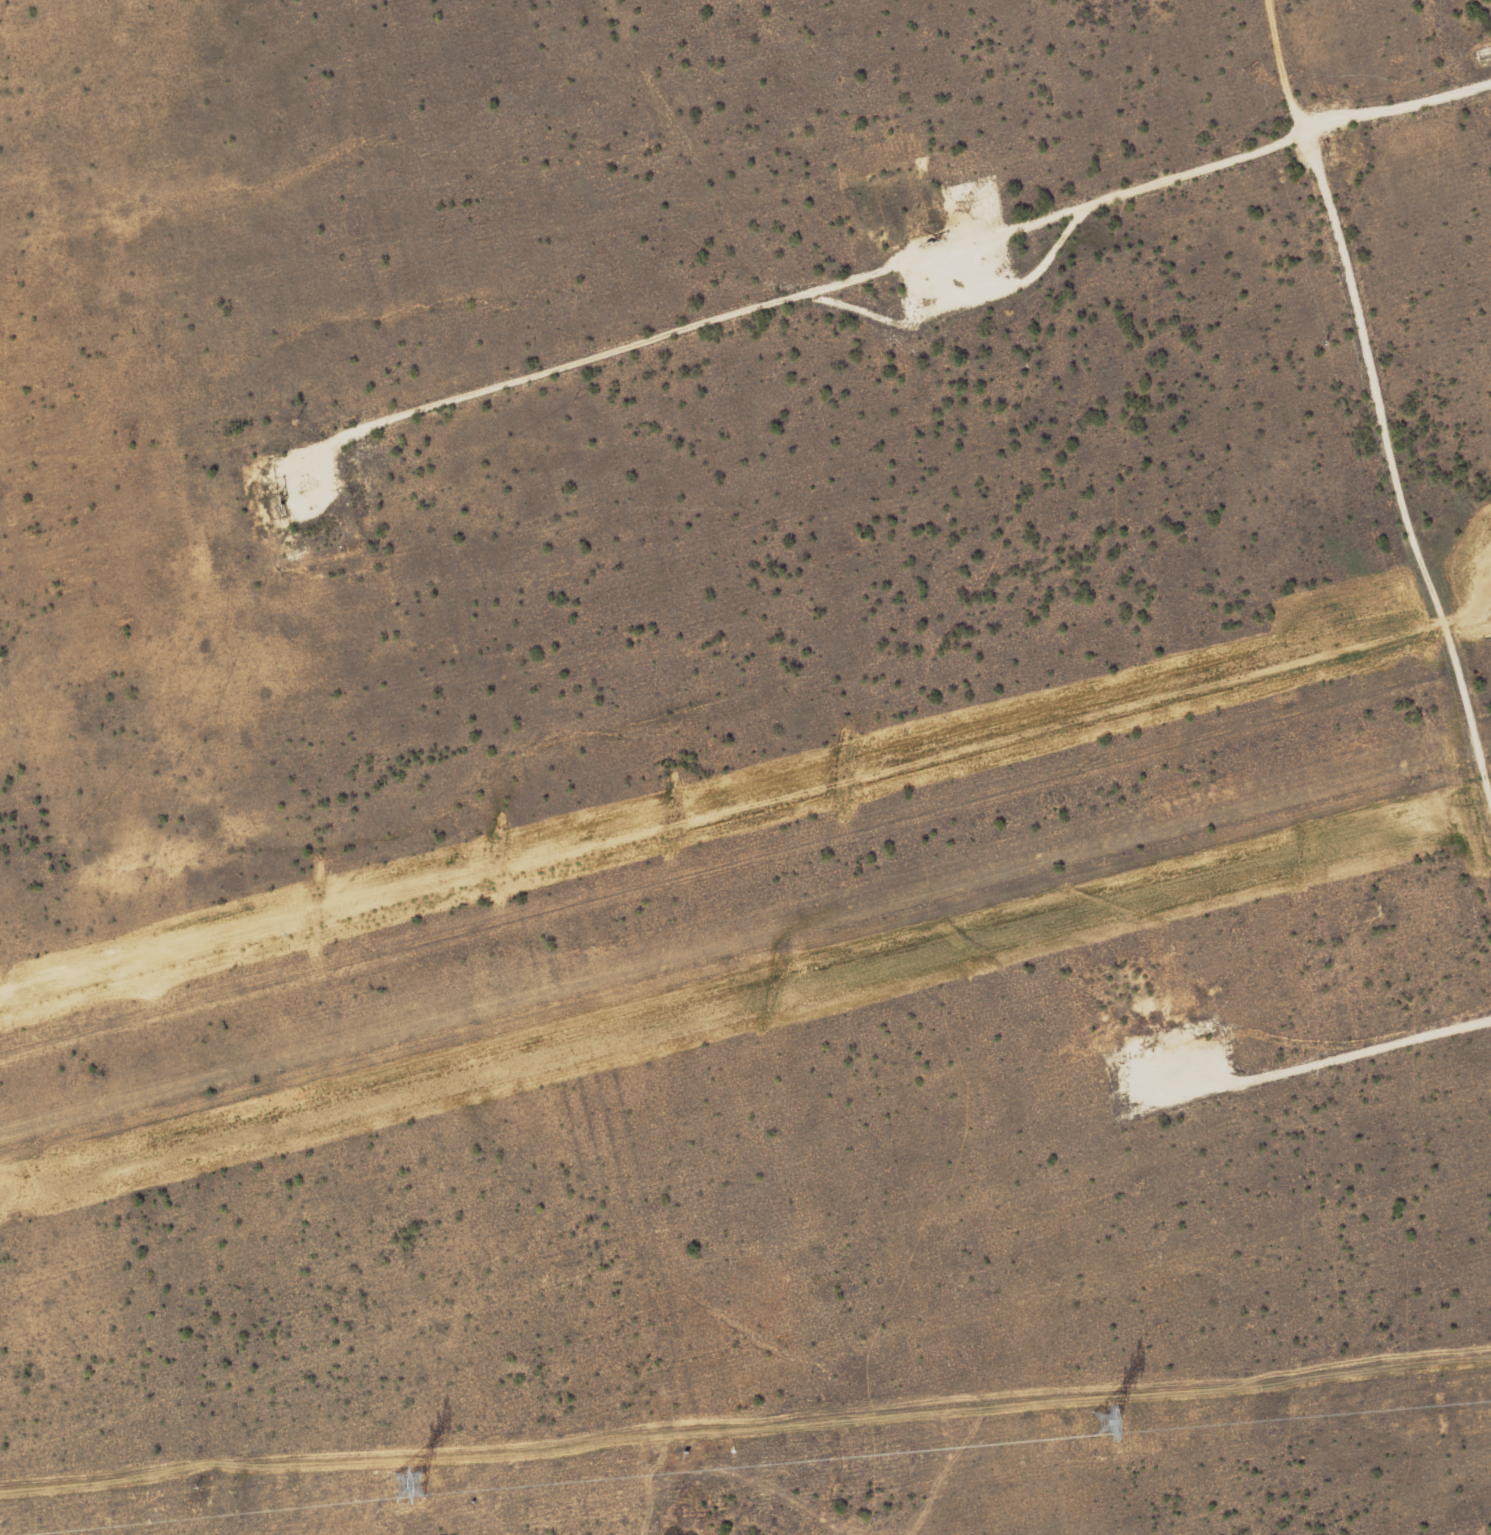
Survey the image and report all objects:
power tower: (1105, 1423)
power tower: (407, 1486)

